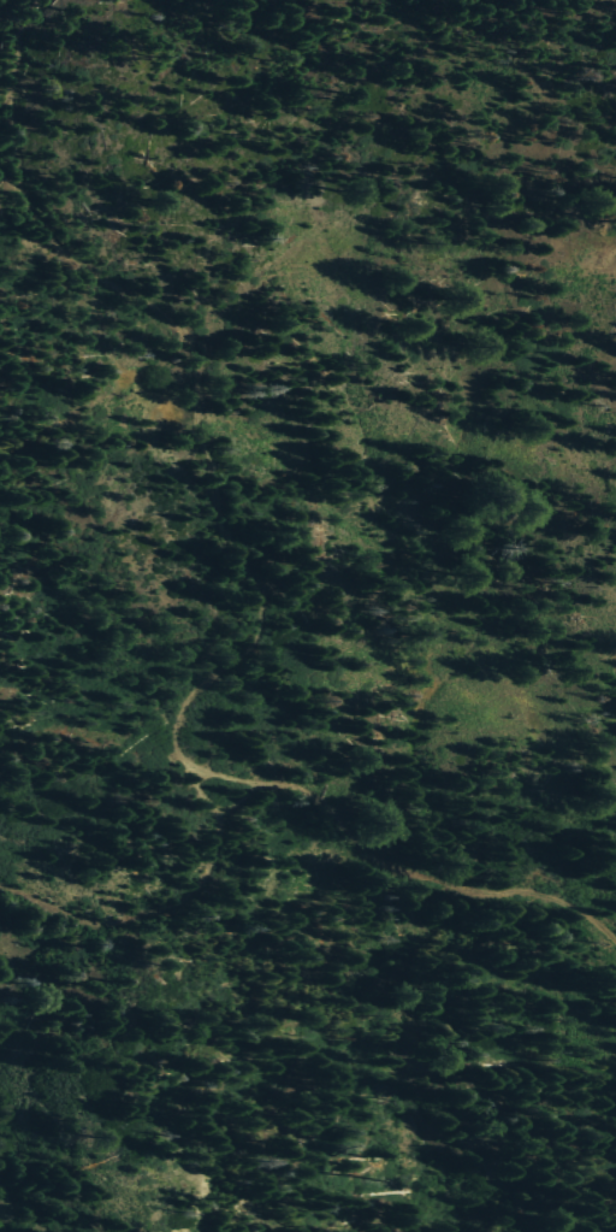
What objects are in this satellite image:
road: (16, 49)
road: (4, 113)
road: (10, 153)
road: (8, 195)
road: (215, 500)
road: (432, 877)

